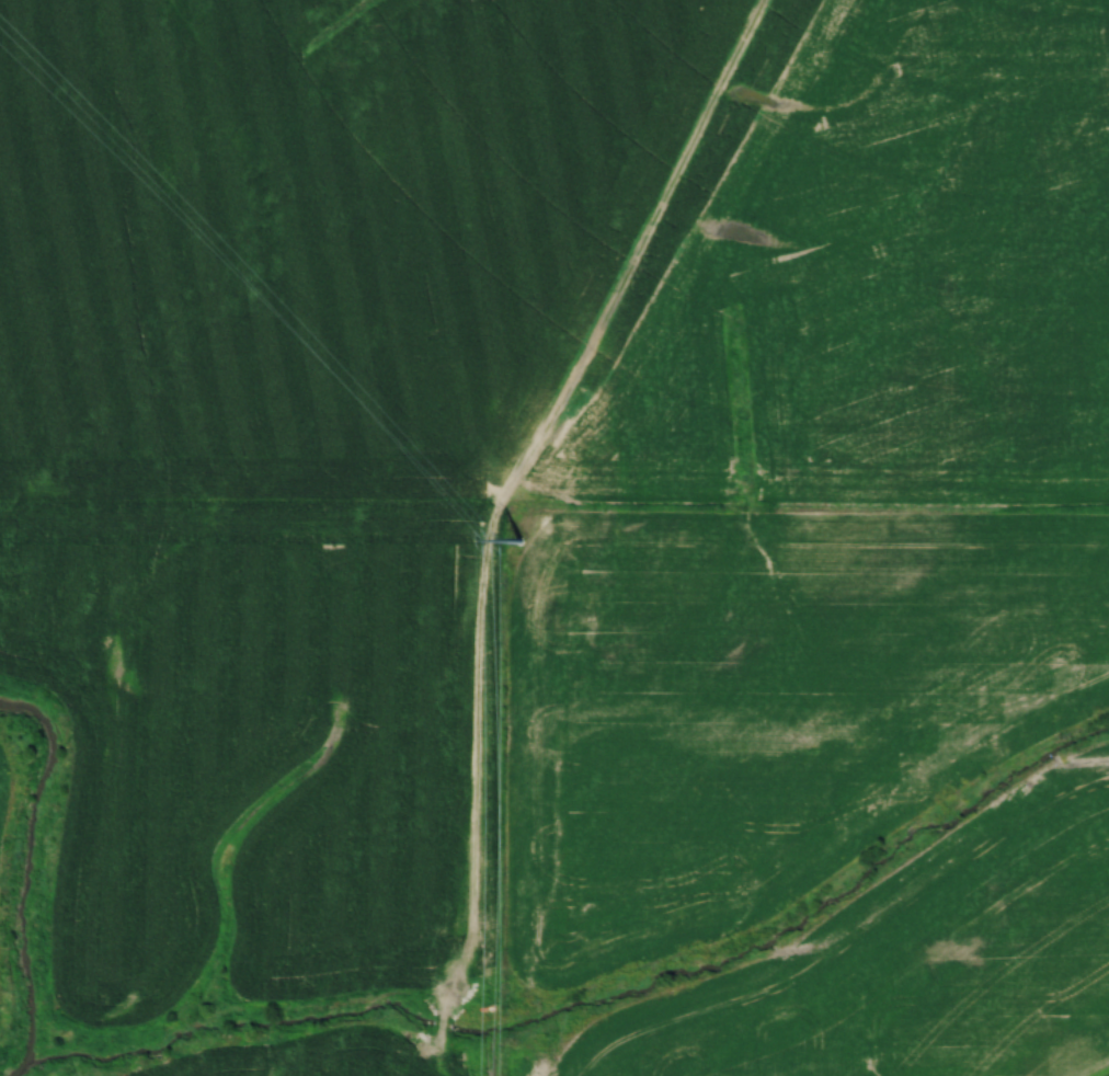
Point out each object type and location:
power tower: (521, 545)

